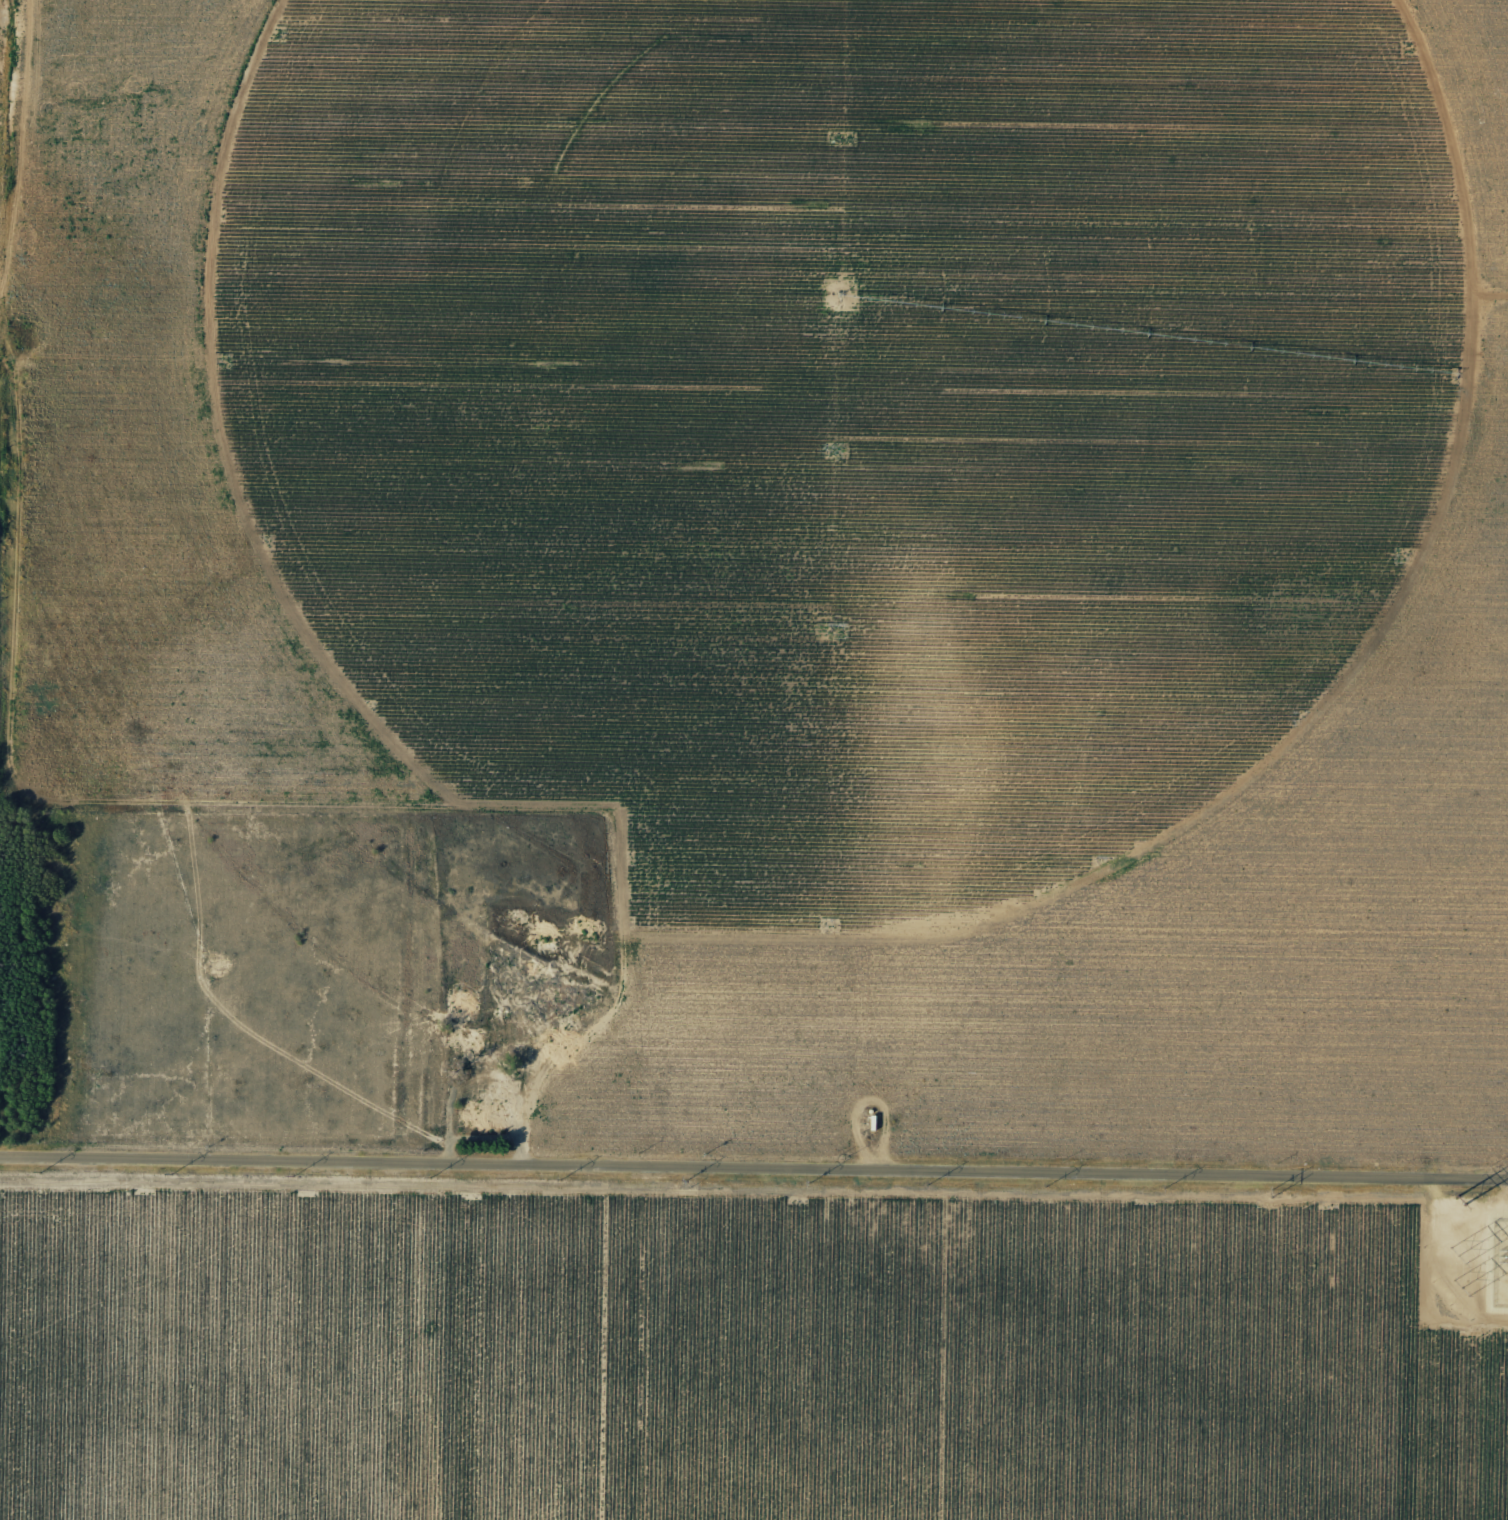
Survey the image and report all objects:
road: (721, 1015)
building: (493, 1094)
road: (753, 1178)
power substation: (1500, 1265)

